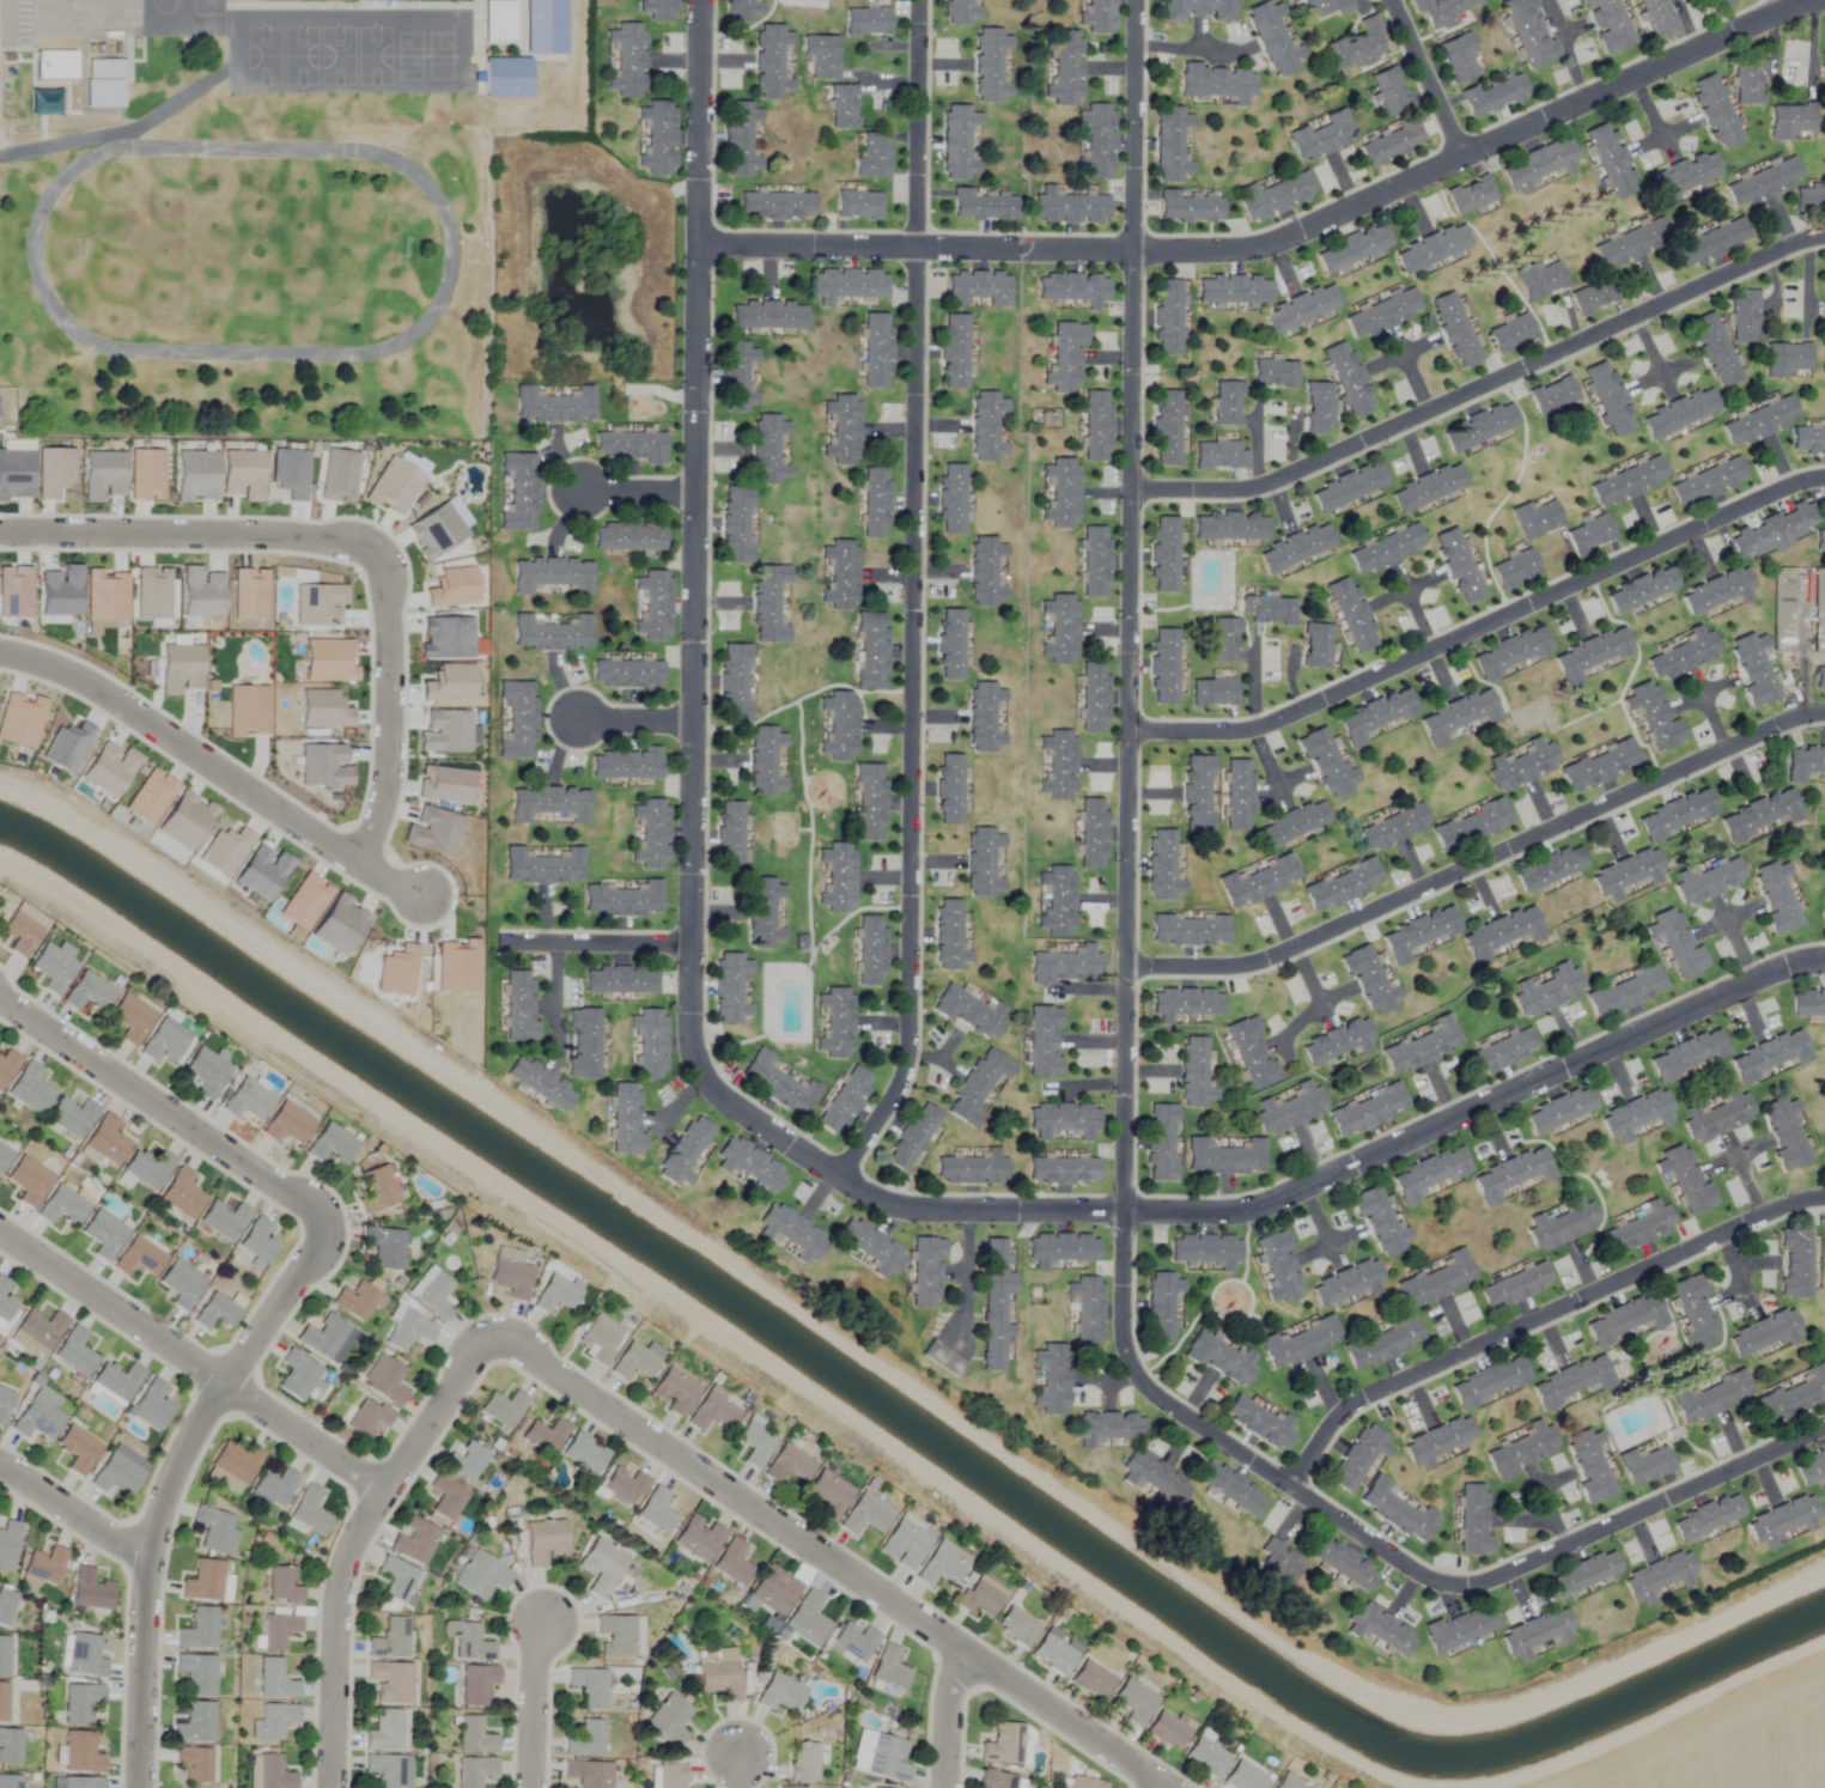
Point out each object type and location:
building: (379, 1)
building: (1726, 1)
building: (1324, 7)
building: (1199, 10)
building: (670, 11)
building: (742, 11)
building: (1442, 12)
building: (959, 13)
building: (1096, 17)
building: (1659, 18)
building: (498, 22)
building: (866, 22)
building: (545, 25)
building: (1607, 25)
building: (1528, 32)
building: (1272, 39)
building: (1358, 47)
road: (1194, 48)
road: (1564, 50)
building: (821, 56)
building: (631, 57)
building: (1459, 60)
building: (769, 61)
building: (56, 62)
building: (988, 66)
building: (105, 67)
building: (1063, 68)
building: (506, 74)
road: (1429, 79)
building: (1217, 83)
building: (1748, 83)
building: (1823, 87)
building: (104, 91)
building: (1388, 92)
building: (1492, 97)
building: (44, 103)
building: (842, 108)
building: (1715, 112)
building: (1791, 122)
building: (1322, 136)
building: (738, 139)
building: (662, 140)
building: (956, 141)
building: (1097, 141)
building: (1393, 142)
building: (1170, 145)
building: (874, 157)
building: (1611, 160)
building: (1539, 166)
building: (1678, 177)
building: (1764, 182)
building: (1276, 195)
building: (1471, 195)
building: (1809, 200)
building: (858, 205)
building: (983, 205)
building: (775, 206)
building: (1190, 206)
building: (1069, 208)
road: (1280, 241)
building: (1711, 243)
building: (1352, 247)
building: (1623, 247)
building: (1432, 248)
building: (1539, 279)
building: (846, 284)
building: (978, 287)
building: (1073, 287)
building: (1234, 288)
building: (1594, 296)
building: (1301, 308)
building: (1383, 312)
building: (767, 314)
building: (1167, 316)
building: (1744, 317)
building: (1823, 326)
building: (1454, 329)
building: (1511, 334)
building: (1715, 349)
building: (876, 351)
building: (953, 352)
building: (1065, 357)
building: (1788, 358)
building: (1275, 373)
building: (736, 376)
building: (1349, 379)
road: (1483, 387)
building: (1552, 395)
building: (1608, 399)
building: (558, 403)
building: (1227, 403)
building: (1318, 408)
building: (1679, 412)
building: (1759, 420)
building: (1096, 425)
building: (1479, 426)
building: (986, 427)
building: (1166, 427)
building: (841, 428)
building: (1808, 439)
building: (632, 445)
building: (767, 449)
building: (1218, 455)
road: (696, 470)
building: (1628, 481)
building: (1708, 481)
building: (1348, 486)
building: (1428, 487)
building: (523, 491)
road: (633, 492)
building: (1060, 493)
building: (951, 499)
building: (875, 503)
building: (1535, 518)
building: (736, 524)
building: (1230, 527)
building: (1775, 530)
building: (1589, 534)
road: (188, 536)
building: (633, 537)
building: (1820, 540)
building: (1296, 547)
building: (1386, 548)
building: (1164, 554)
building: (1094, 561)
building: (1458, 566)
building: (1515, 568)
building: (985, 572)
building: (553, 573)
building: (840, 574)
building: (1641, 589)
building: (1717, 590)
road: (914, 597)
building: (768, 603)
building: (658, 604)
building: (1270, 609)
building: (1782, 610)
building: (1818, 610)
building: (1352, 614)
building: (1059, 630)
road: (1483, 630)
building: (553, 633)
building: (1224, 640)
building: (950, 644)
building: (1316, 645)
building: (870, 650)
building: (1511, 651)
building: (1590, 653)
building: (1684, 653)
building: (1163, 667)
building: (1753, 670)
building: (628, 673)
building: (1819, 677)
building: (734, 682)
road: (805, 693)
building: (1213, 693)
building: (1094, 698)
road: (384, 708)
building: (1653, 714)
building: (1374, 716)
building: (1456, 716)
building: (984, 717)
building: (519, 719)
road: (635, 720)
building: (838, 725)
building: (764, 761)
building: (628, 762)
building: (1058, 764)
building: (1326, 764)
building: (1521, 765)
building: (1600, 765)
building: (1806, 765)
road: (215, 770)
building: (949, 789)
building: (1197, 795)
building: (1237, 795)
building: (552, 801)
building: (868, 802)
building: (1525, 814)
building: (1677, 814)
building: (1759, 815)
building: (1292, 823)
building: (1471, 825)
building: (1394, 826)
road: (814, 829)
building: (653, 832)
building: (1091, 834)
building: (729, 835)
road: (1480, 862)
building: (983, 863)
building: (543, 864)
building: (1162, 866)
building: (1551, 870)
building: (1626, 876)
building: (837, 877)
building: (1259, 881)
building: (1707, 881)
building: (1342, 886)
building: (1776, 896)
building: (625, 898)
building: (1057, 901)
building: (762, 913)
building: (1824, 913)
road: (848, 914)
building: (1190, 930)
building: (20, 933)
building: (1421, 933)
building: (1502, 935)
building: (948, 936)
building: (1677, 943)
road: (610, 944)
building: (870, 950)
building: (1066, 966)
building: (54, 967)
building: (622, 980)
building: (1370, 980)
building: (730, 989)
building: (1546, 990)
building: (1625, 991)
building: (89, 993)
building: (518, 1003)
building: (1185, 1003)
building: (1808, 1003)
building: (969, 1011)
building: (132, 1020)
building: (835, 1022)
building: (585, 1038)
building: (652, 1041)
building: (1044, 1041)
building: (1336, 1044)
building: (162, 1045)
building: (1423, 1046)
building: (1505, 1050)
building: (1687, 1054)
building: (1251, 1056)
building: (1770, 1056)
building: (7, 1066)
building: (207, 1072)
building: (1194, 1072)
building: (543, 1081)
building: (777, 1084)
road: (1124, 1084)
building: (978, 1087)
building: (29, 1090)
building: (248, 1101)
building: (844, 1101)
building: (1290, 1107)
building: (1368, 1109)
building: (1561, 1109)
road: (168, 1111)
building: (625, 1113)
building: (1636, 1114)
building: (1717, 1115)
building: (71, 1118)
building: (1065, 1120)
building: (288, 1124)
building: (1786, 1133)
building: (911, 1138)
building: (107, 1142)
building: (1161, 1142)
building: (331, 1145)
building: (688, 1148)
building: (4, 1157)
building: (1224, 1157)
building: (753, 1163)
building: (972, 1168)
building: (1063, 1170)
building: (144, 1172)
building: (1428, 1175)
building: (1511, 1175)
building: (1686, 1179)
building: (28, 1182)
building: (377, 1191)
building: (181, 1194)
building: (61, 1208)
road: (1200, 1214)
building: (224, 1221)
building: (1380, 1222)
building: (1562, 1224)
building: (1641, 1228)
building: (791, 1231)
building: (103, 1235)
building: (257, 1242)
building: (870, 1246)
building: (384, 1248)
building: (1061, 1248)
building: (1204, 1251)
building: (138, 1259)
building: (1795, 1263)
building: (1279, 1267)
building: (925, 1271)
road: (963, 1273)
building: (510, 1278)
building: (1436, 1281)
building: (1346, 1283)
building: (181, 1285)
building: (1515, 1287)
building: (432, 1294)
building: (558, 1294)
building: (357, 1302)
building: (5, 1303)
building: (994, 1303)
building: (1160, 1306)
building: (1087, 1310)
building: (1693, 1312)
building: (214, 1313)
road: (1538, 1316)
building: (1625, 1320)
building: (41, 1328)
building: (406, 1331)
building: (1764, 1333)
building: (321, 1338)
building: (600, 1339)
building: (1300, 1343)
building: (1382, 1344)
building: (74, 1354)
building: (1219, 1358)
road: (191, 1361)
building: (633, 1363)
building: (297, 1375)
building: (1051, 1379)
building: (384, 1380)
building: (116, 1381)
building: (1570, 1381)
building: (1490, 1382)
building: (675, 1392)
building: (1794, 1395)
building: (1713, 1397)
building: (153, 1403)
building: (4, 1404)
building: (503, 1409)
building: (712, 1413)
building: (366, 1418)
building: (36, 1419)
building: (1260, 1423)
building: (1106, 1428)
building: (545, 1436)
building: (1437, 1441)
building: (755, 1442)
building: (77, 1449)
building: (583, 1453)
building: (1520, 1453)
building: (1357, 1458)
building: (1644, 1464)
building: (233, 1465)
building: (789, 1465)
building: (1589, 1465)
building: (1811, 1466)
building: (117, 1472)
building: (1155, 1479)
road: (170, 1483)
building: (625, 1485)
building: (274, 1486)
building: (1230, 1488)
building: (827, 1495)
building: (445, 1497)
building: (656, 1510)
building: (1395, 1510)
building: (309, 1512)
road: (75, 1513)
building: (866, 1514)
building: (1708, 1516)
building: (1782, 1520)
building: (1473, 1521)
building: (212, 1529)
building: (698, 1537)
road: (354, 1540)
building: (413, 1540)
building: (543, 1541)
building: (906, 1543)
building: (7, 1544)
road: (828, 1559)
building: (731, 1562)
building: (1279, 1562)
building: (1342, 1563)
building: (943, 1564)
building: (44, 1565)
building: (600, 1567)
building: (1583, 1573)
building: (479, 1575)
building: (1660, 1575)
building: (399, 1580)
building: (202, 1581)
building: (281, 1585)
building: (90, 1591)
building: (773, 1591)
building: (980, 1595)
building: (6, 1606)
building: (807, 1619)
building: (1017, 1626)
building: (1460, 1628)
building: (197, 1630)
building: (276, 1630)
building: (1381, 1630)
building: (1537, 1634)
building: (615, 1635)
building: (389, 1640)
building: (467, 1641)
building: (853, 1643)
building: (1056, 1652)
building: (2, 1655)
building: (84, 1655)
building: (889, 1668)
building: (196, 1673)
building: (717, 1673)
building: (274, 1680)
building: (1093, 1680)
building: (390, 1681)
building: (476, 1684)
building: (589, 1686)
building: (779, 1693)
building: (2, 1702)
building: (1134, 1702)
building: (80, 1703)
road: (533, 1704)
road: (947, 1717)
building: (272, 1721)
building: (668, 1721)
building: (194, 1723)
building: (384, 1731)
building: (1168, 1731)
building: (473, 1735)
building: (585, 1739)
building: (1002, 1745)
building: (10, 1746)
crop: (1745, 1751)
building: (80, 1752)
building: (878, 1757)
building: (1206, 1758)
building: (803, 1762)
building: (193, 1763)
building: (384, 1769)
road: (736, 1770)
building: (473, 1771)
building: (272, 1772)
building: (588, 1774)
building: (669, 1776)
building: (1243, 1777)
building: (996, 1780)
building: (10, 1781)
building: (81, 1782)
building: (1288, 1782)
building: (1083, 1783)
road: (1155, 1784)
building: (790, 1787)
building: (872, 1787)

